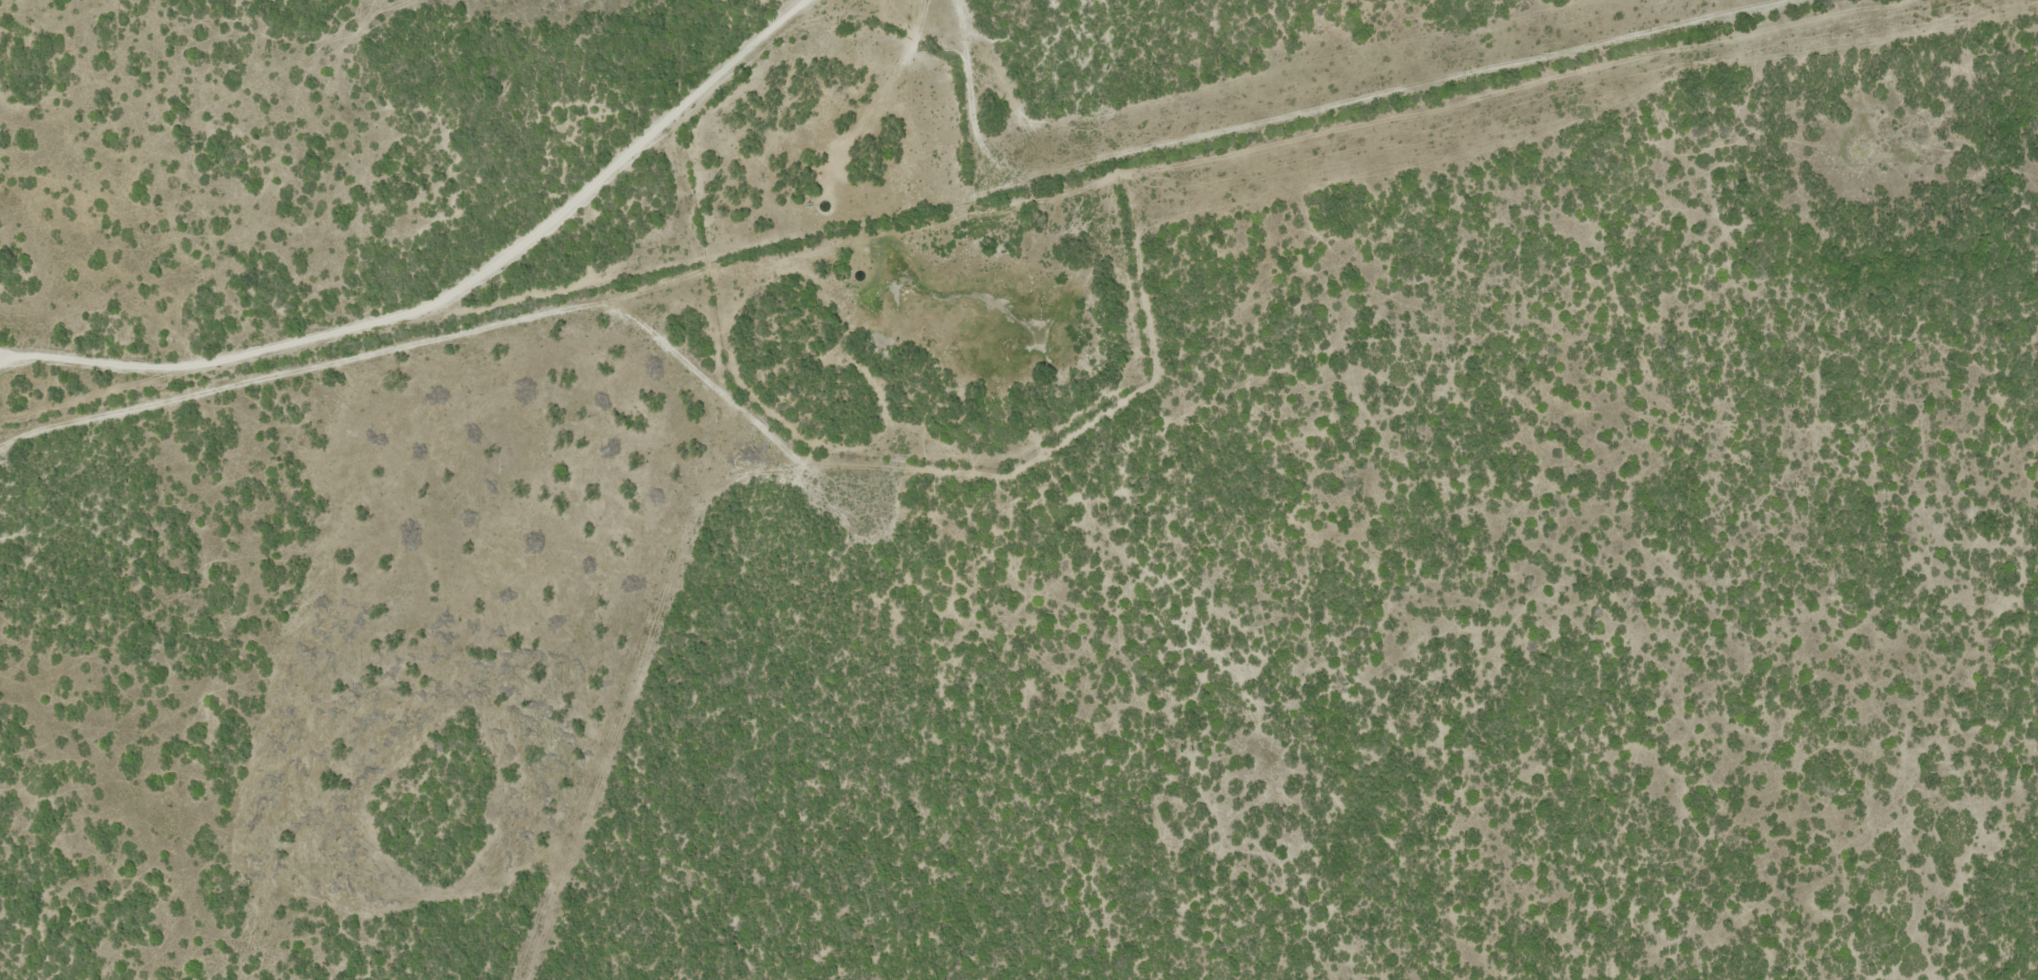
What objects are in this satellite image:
road: (1327, 108)
road: (419, 287)
road: (449, 403)

